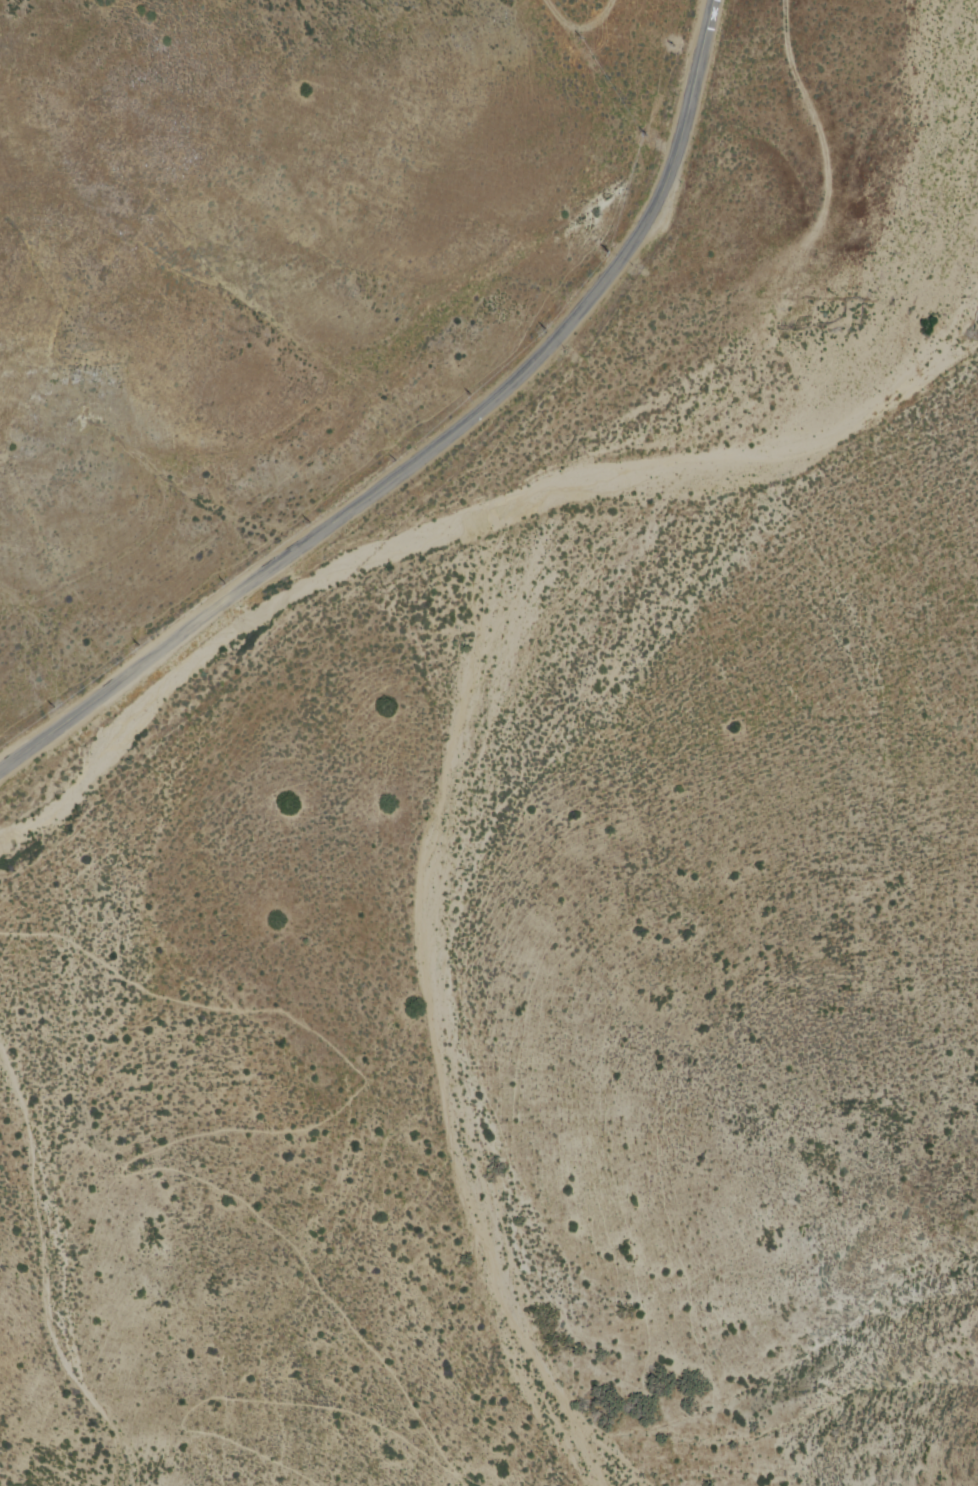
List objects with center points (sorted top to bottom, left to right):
road: (435, 446)
road: (217, 1193)

